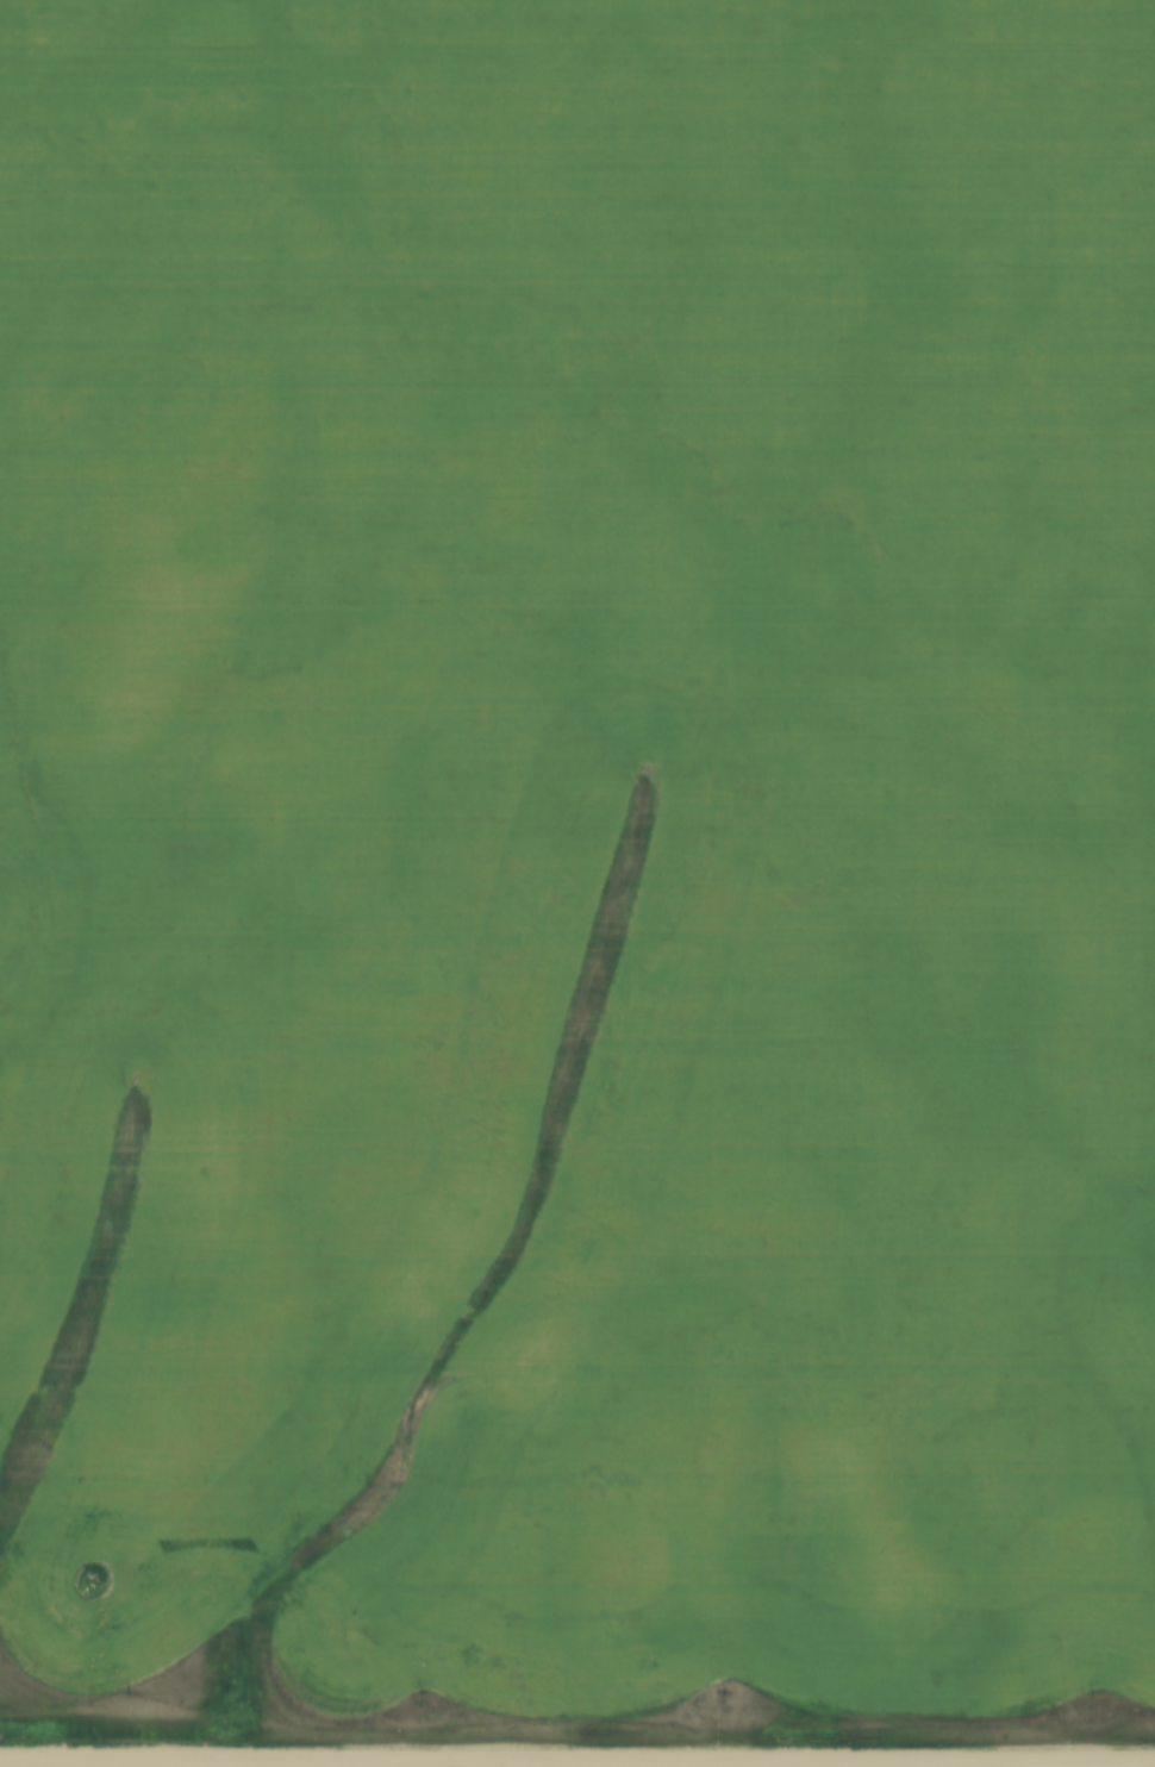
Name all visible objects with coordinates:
road: (577, 1766)

